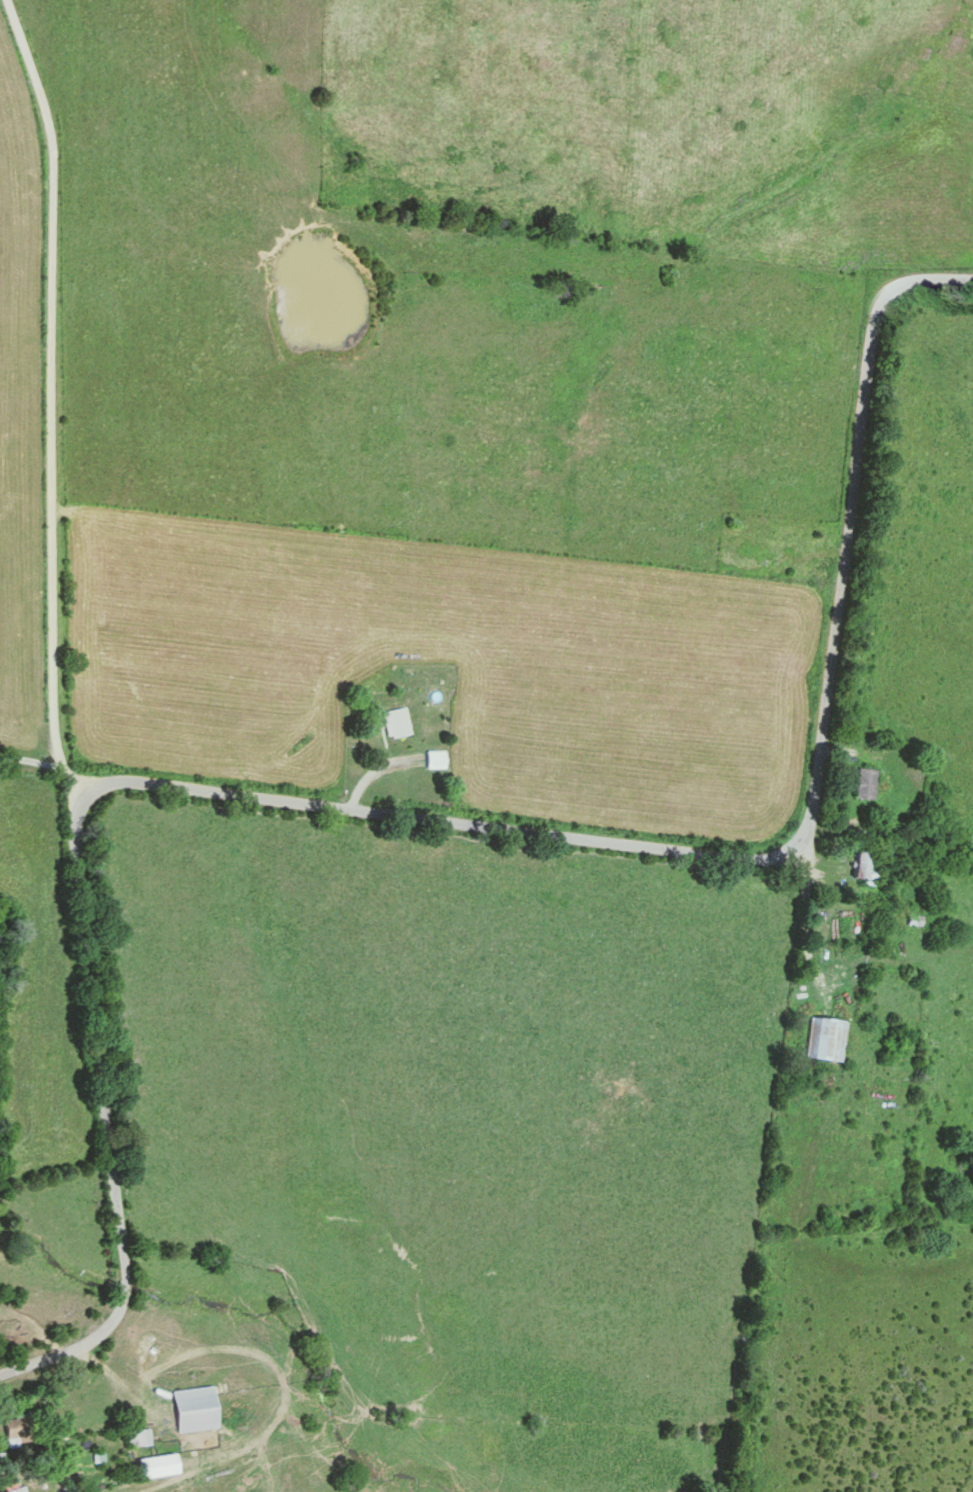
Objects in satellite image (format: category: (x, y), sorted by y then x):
road: (51, 394)
building: (756, 550)
building: (398, 723)
building: (437, 759)
building: (866, 783)
road: (426, 819)
building: (826, 1038)
building: (195, 1409)
building: (17, 1427)
building: (140, 1438)
building: (158, 1467)

